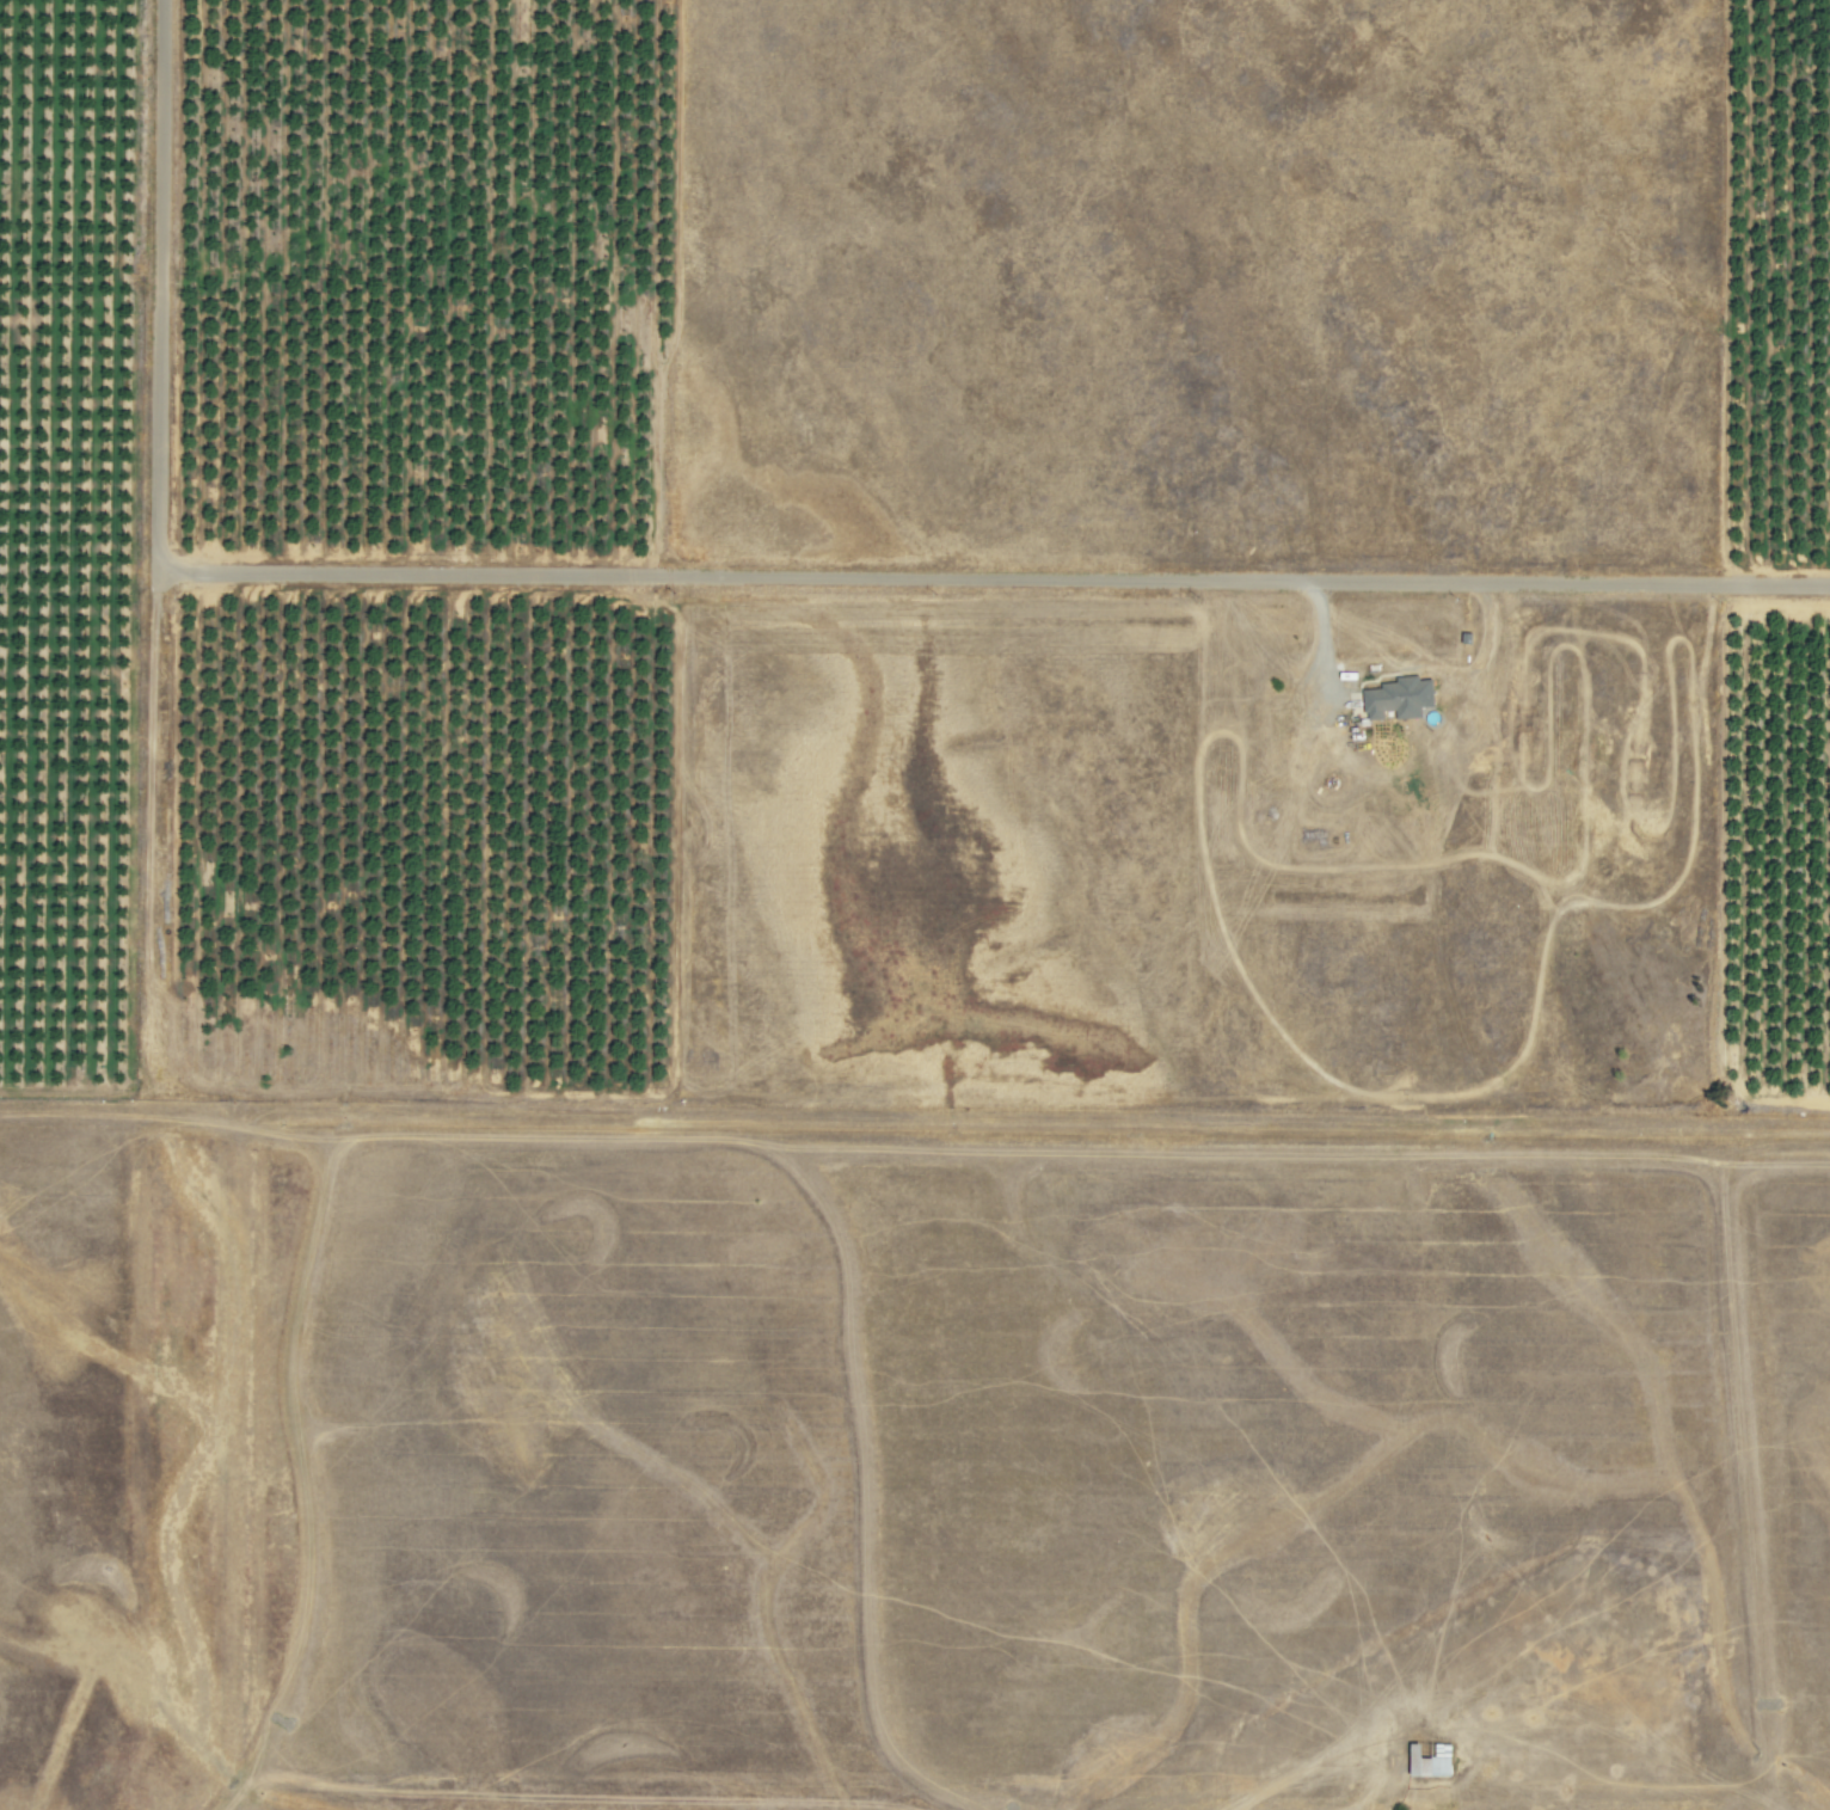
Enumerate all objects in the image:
road: (156, 24)
road: (154, 308)
road: (990, 581)
building: (1400, 698)
building: (1424, 1761)

